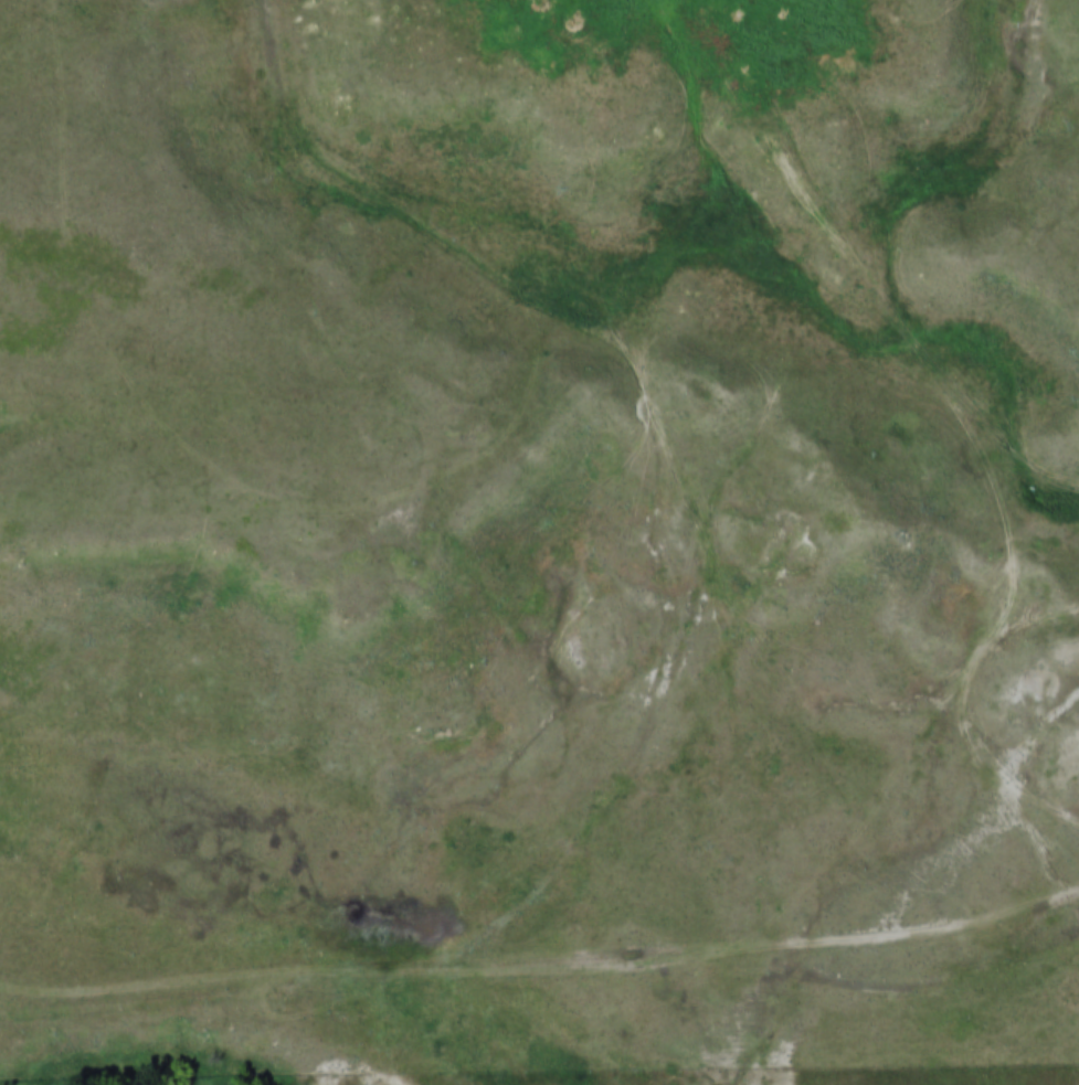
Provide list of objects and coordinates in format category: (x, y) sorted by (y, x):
road: (541, 957)

